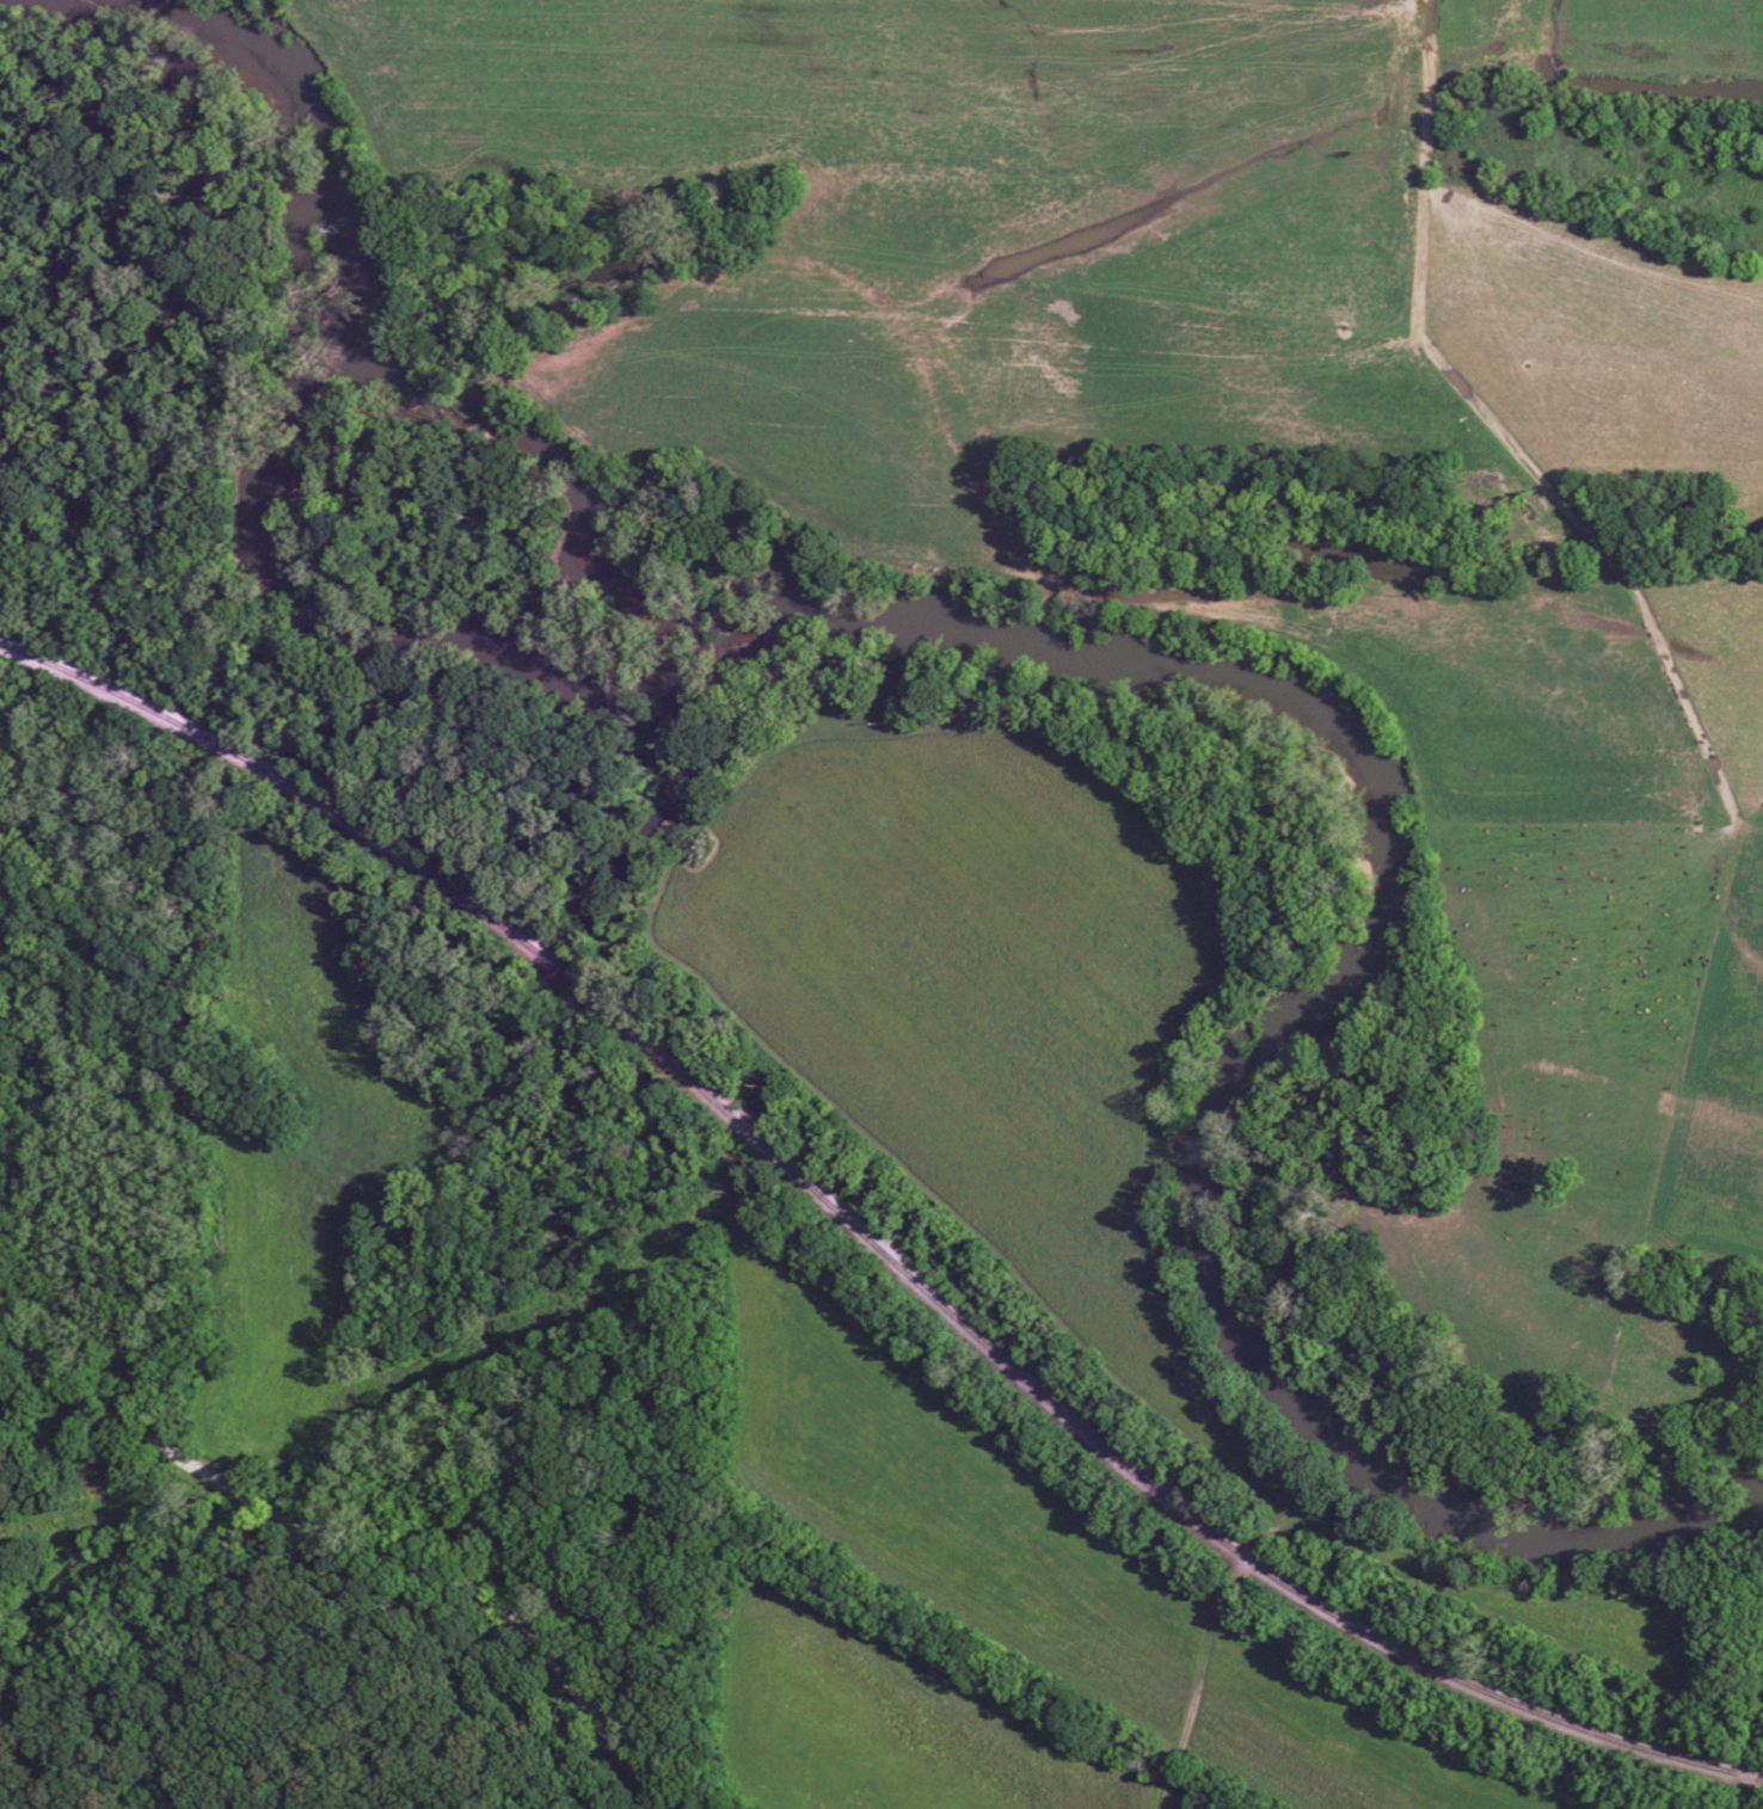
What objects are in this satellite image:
railway: (865, 1230)
road: (334, 1537)

